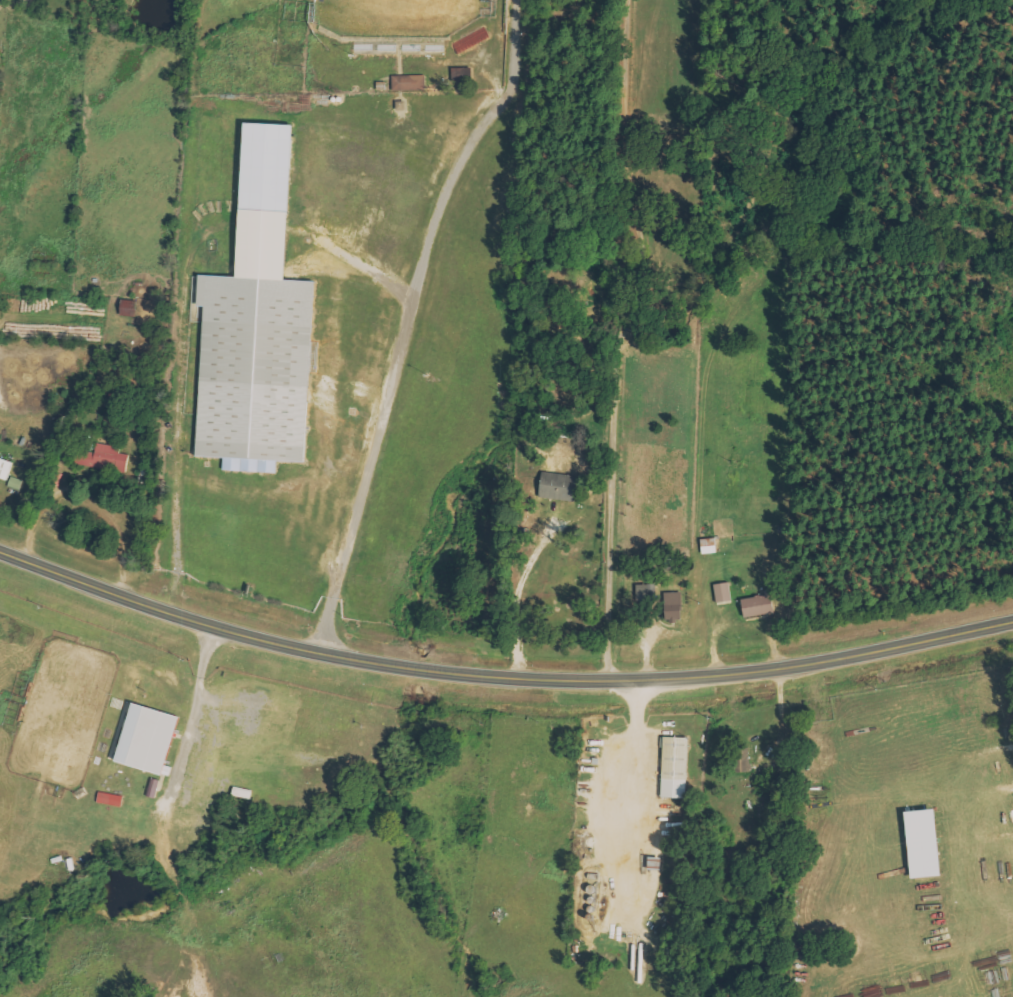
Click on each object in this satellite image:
building: (472, 40)
building: (410, 83)
building: (130, 308)
building: (259, 325)
road: (393, 369)
building: (110, 458)
building: (6, 467)
building: (16, 483)
building: (559, 486)
building: (723, 592)
building: (645, 593)
building: (759, 605)
building: (674, 607)
road: (500, 671)
building: (742, 760)
building: (675, 767)
building: (111, 799)
building: (926, 844)

